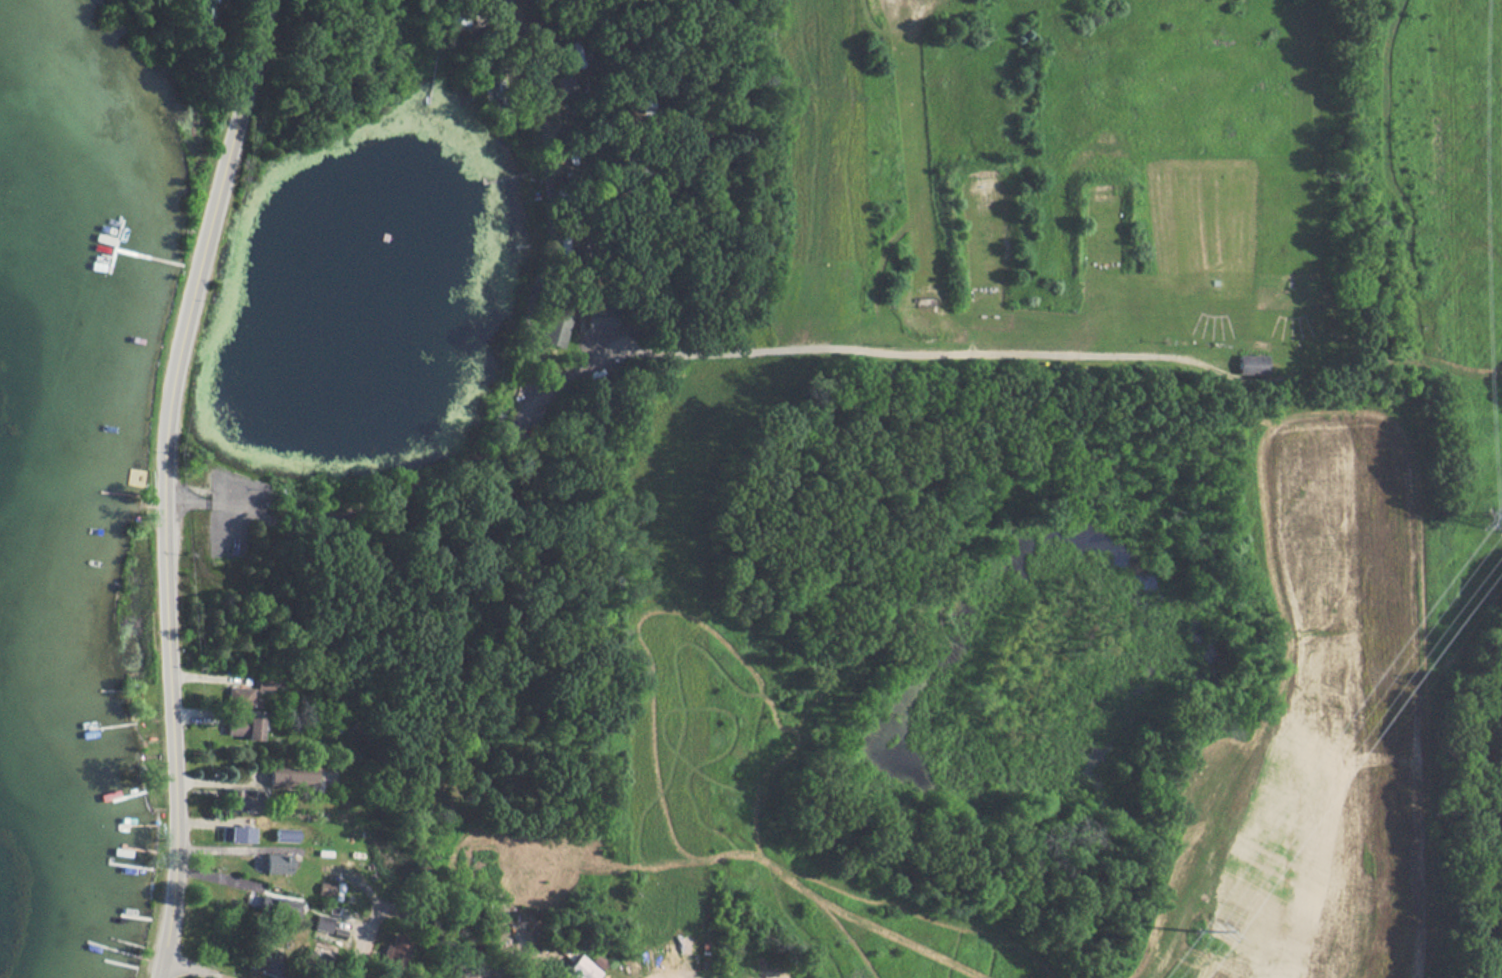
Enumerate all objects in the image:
building: (196, 7)
building: (600, 317)
building: (556, 330)
building: (1248, 364)
road: (166, 473)
power tower: (1499, 527)
building: (264, 683)
building: (243, 698)
building: (242, 728)
building: (292, 778)
building: (240, 800)
building: (238, 835)
building: (277, 864)
building: (326, 889)
building: (324, 923)
power tower: (1201, 935)
road: (357, 949)
building: (397, 952)
road: (163, 967)
road: (194, 967)
building: (271, 968)
building: (577, 969)

